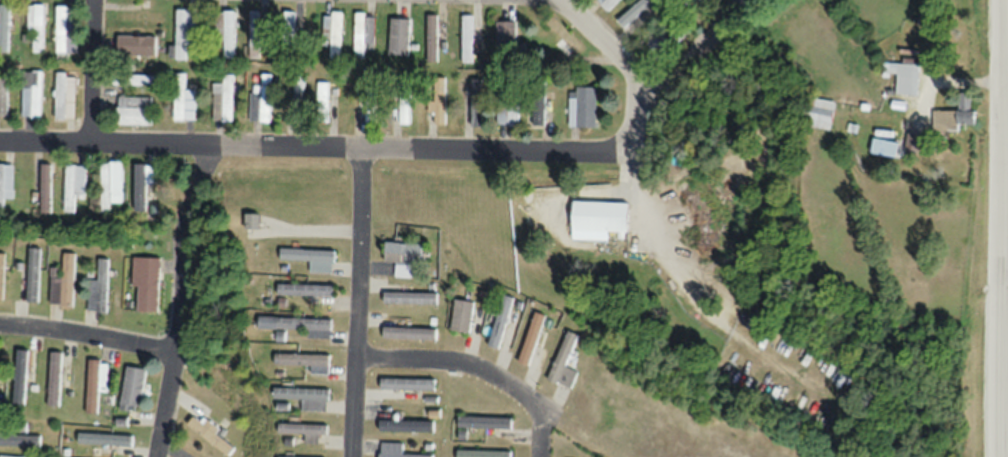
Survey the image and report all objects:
building: (700, 1)
building: (608, 4)
building: (634, 12)
building: (287, 20)
building: (4, 27)
building: (37, 29)
building: (66, 31)
building: (184, 32)
building: (364, 32)
building: (225, 35)
building: (334, 35)
building: (254, 36)
building: (399, 37)
building: (432, 38)
building: (506, 38)
building: (667, 38)
building: (467, 39)
building: (565, 40)
building: (137, 46)
road: (608, 47)
road: (90, 70)
building: (905, 79)
building: (137, 80)
building: (33, 95)
building: (65, 97)
building: (3, 99)
building: (298, 99)
building: (183, 100)
building: (222, 101)
building: (439, 101)
building: (323, 102)
building: (475, 102)
building: (262, 103)
building: (371, 107)
building: (508, 109)
building: (583, 109)
building: (405, 110)
building: (539, 110)
building: (134, 111)
building: (821, 114)
building: (955, 117)
road: (401, 141)
building: (914, 143)
building: (884, 148)
building: (6, 183)
building: (73, 186)
building: (139, 186)
building: (45, 188)
building: (108, 190)
building: (602, 218)
building: (252, 221)
building: (402, 258)
building: (310, 259)
building: (2, 276)
building: (33, 276)
building: (62, 283)
building: (145, 285)
building: (98, 289)
building: (303, 290)
road: (180, 298)
road: (352, 298)
building: (408, 298)
building: (461, 315)
building: (500, 321)
building: (297, 325)
road: (87, 332)
building: (408, 333)
building: (532, 338)
building: (306, 361)
building: (564, 362)
road: (476, 363)
building: (0, 374)
building: (21, 377)
building: (54, 379)
building: (96, 382)
building: (406, 384)
building: (132, 389)
building: (305, 397)
building: (405, 426)
building: (305, 431)
building: (210, 435)
building: (104, 439)
building: (20, 440)
building: (394, 450)
building: (483, 453)

